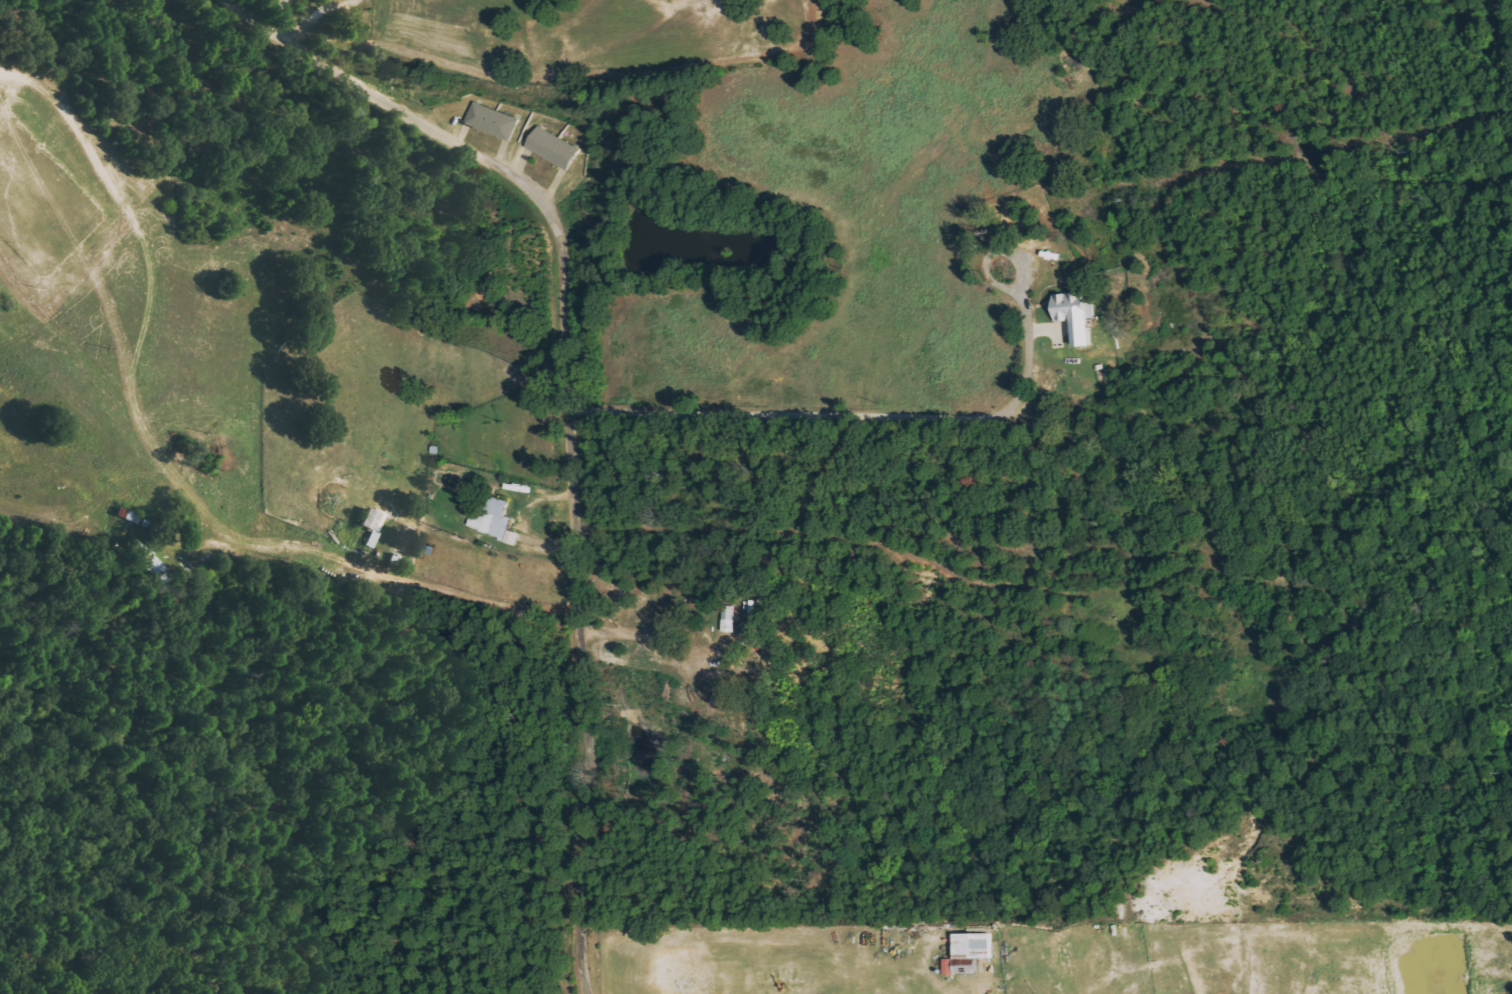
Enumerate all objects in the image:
building: (489, 121)
building: (550, 147)
building: (1071, 314)
road: (567, 408)
building: (491, 519)
building: (370, 525)
building: (147, 561)
building: (727, 619)
building: (967, 953)

